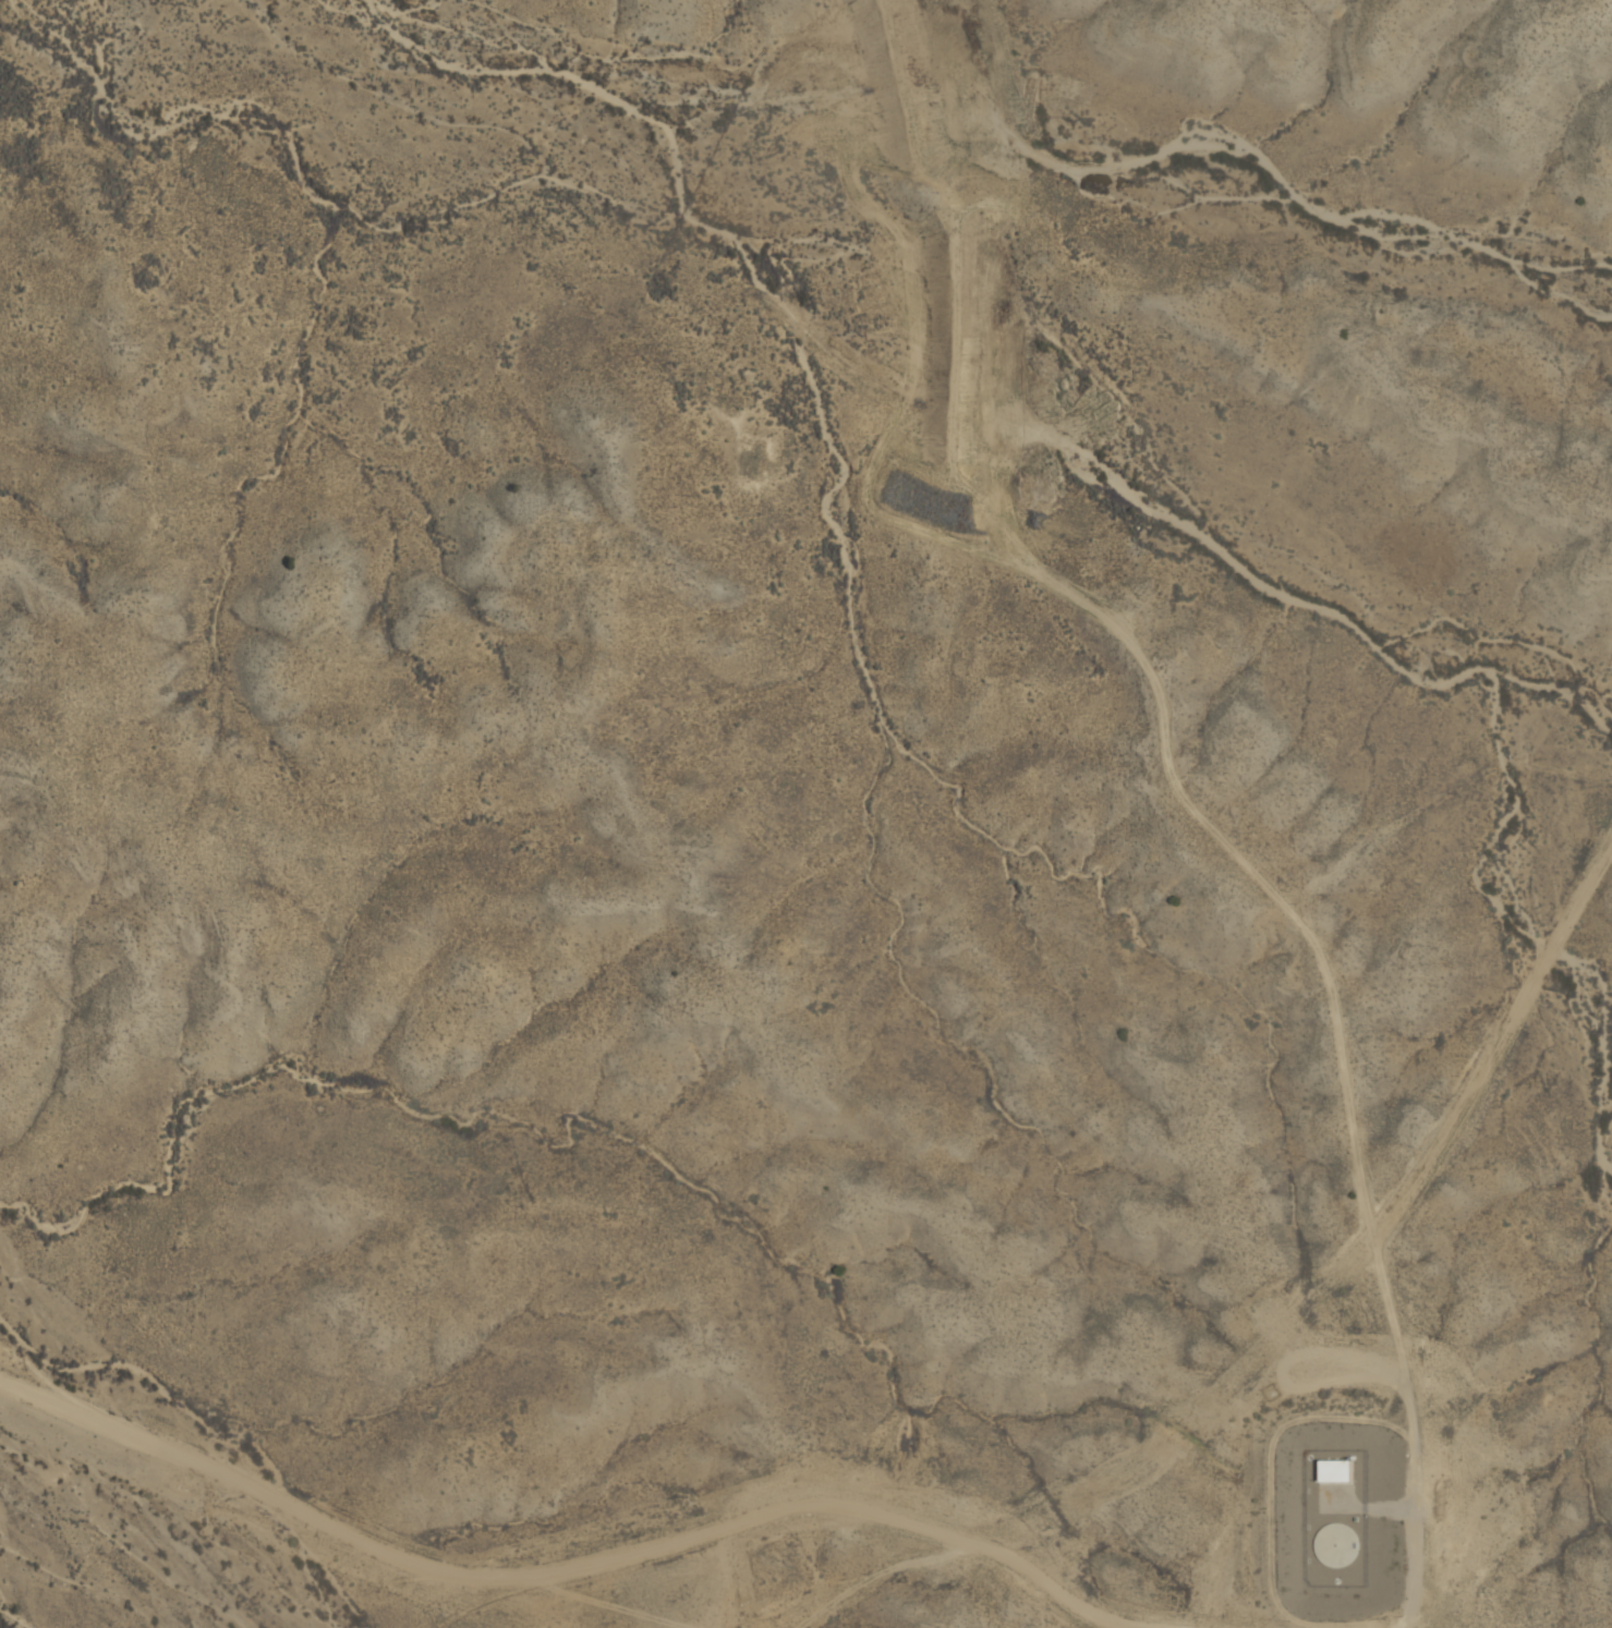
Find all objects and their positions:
building: (1333, 1472)
building: (1334, 1546)
road: (572, 1570)

